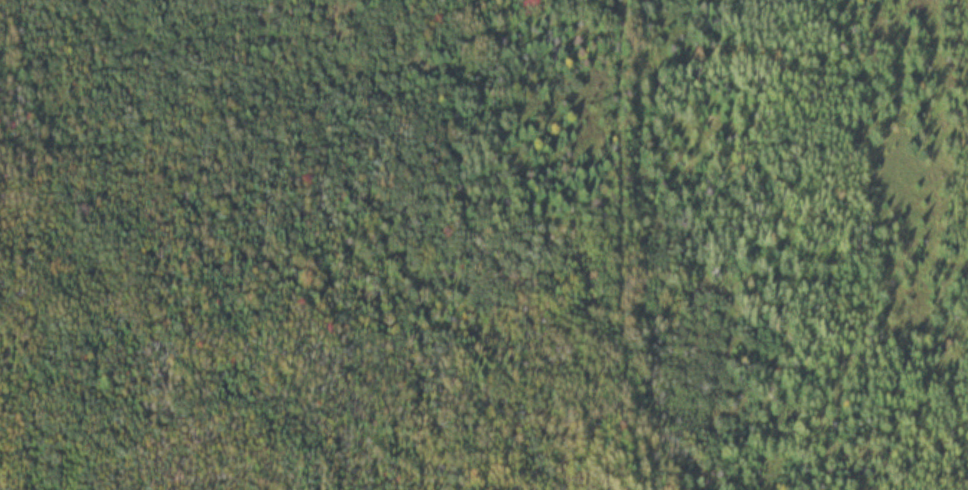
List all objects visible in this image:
road: (623, 246)

